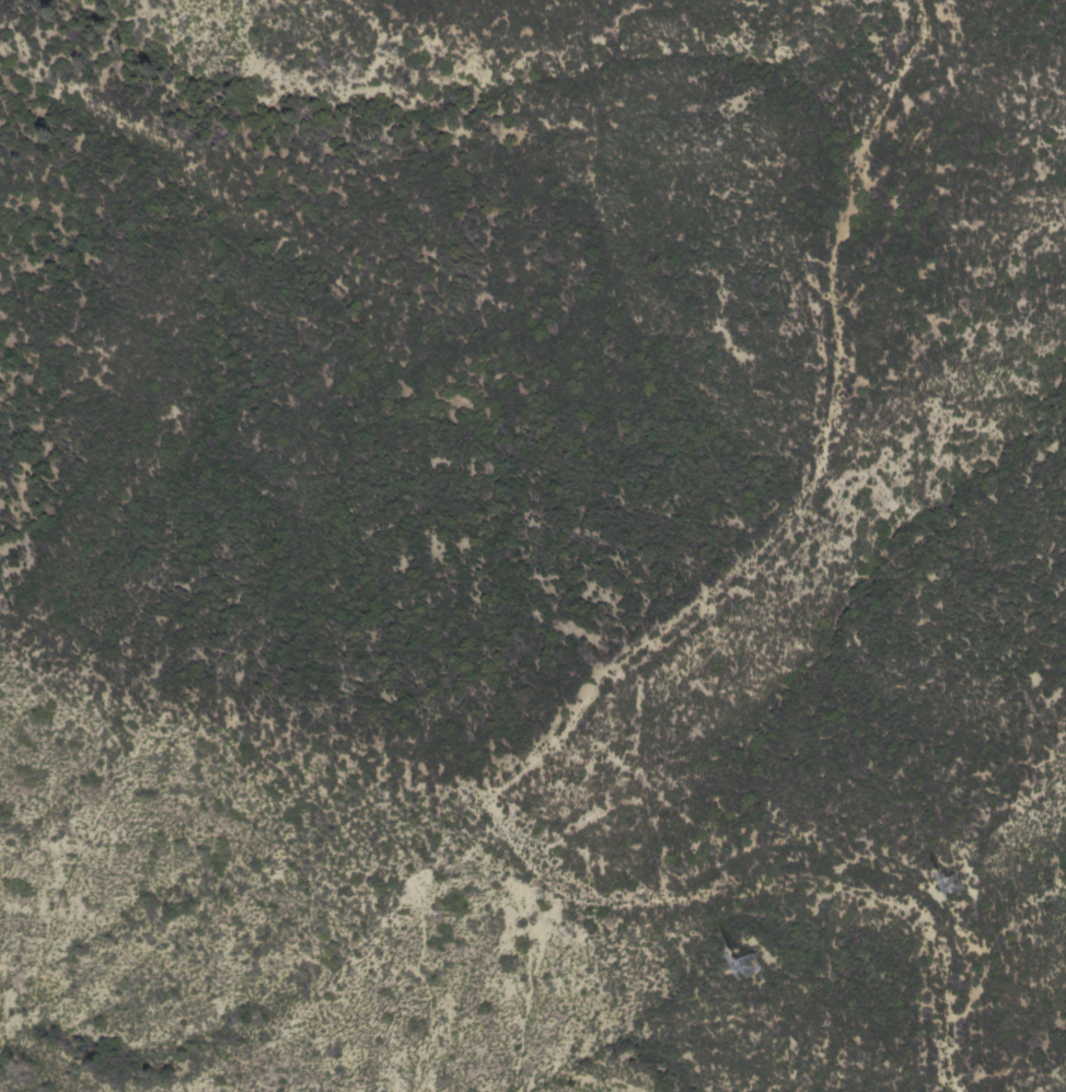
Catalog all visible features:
power tower: (974, 872)
power tower: (773, 949)

